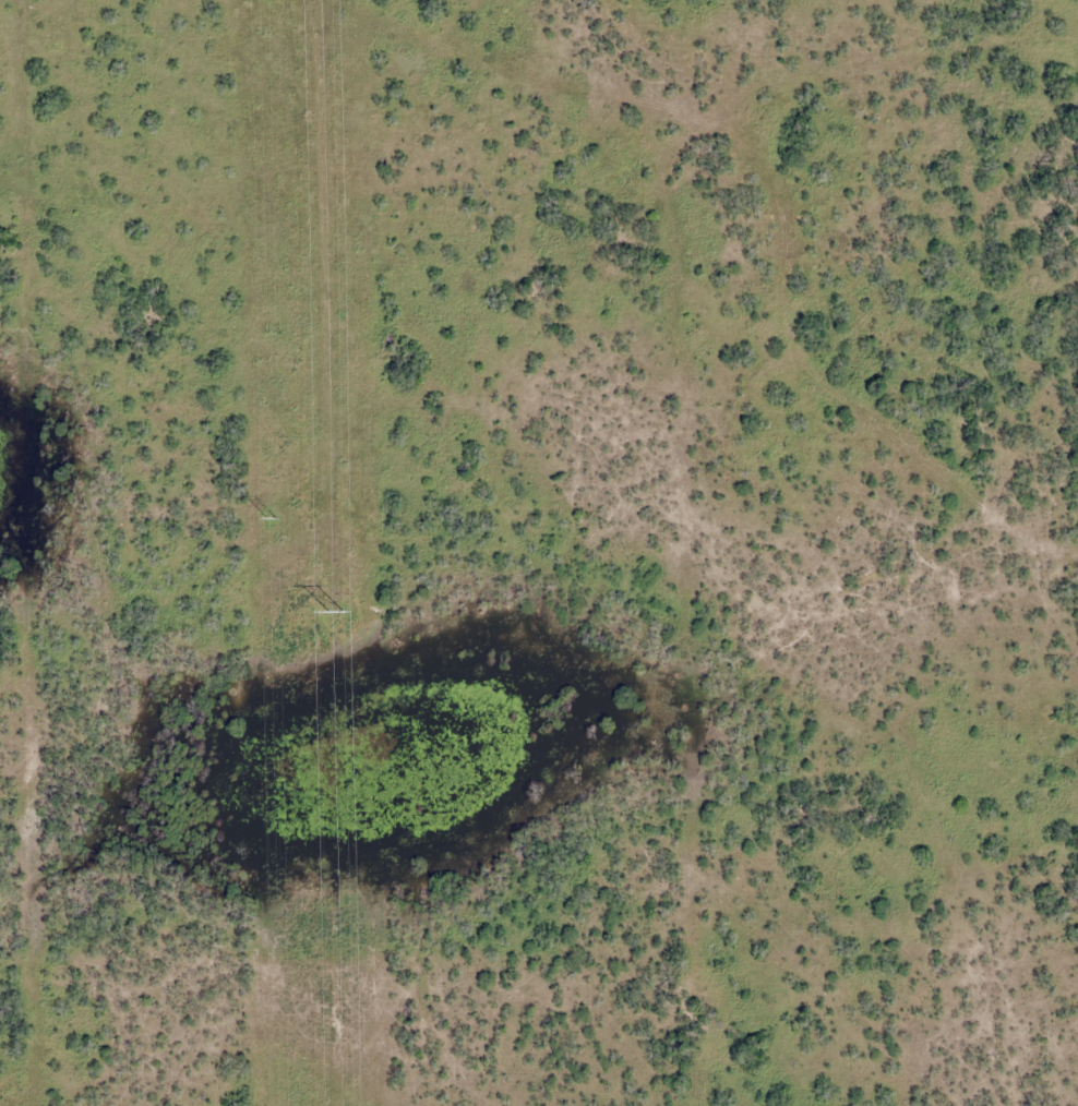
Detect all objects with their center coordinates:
power tower: (272, 519)
power tower: (335, 611)

